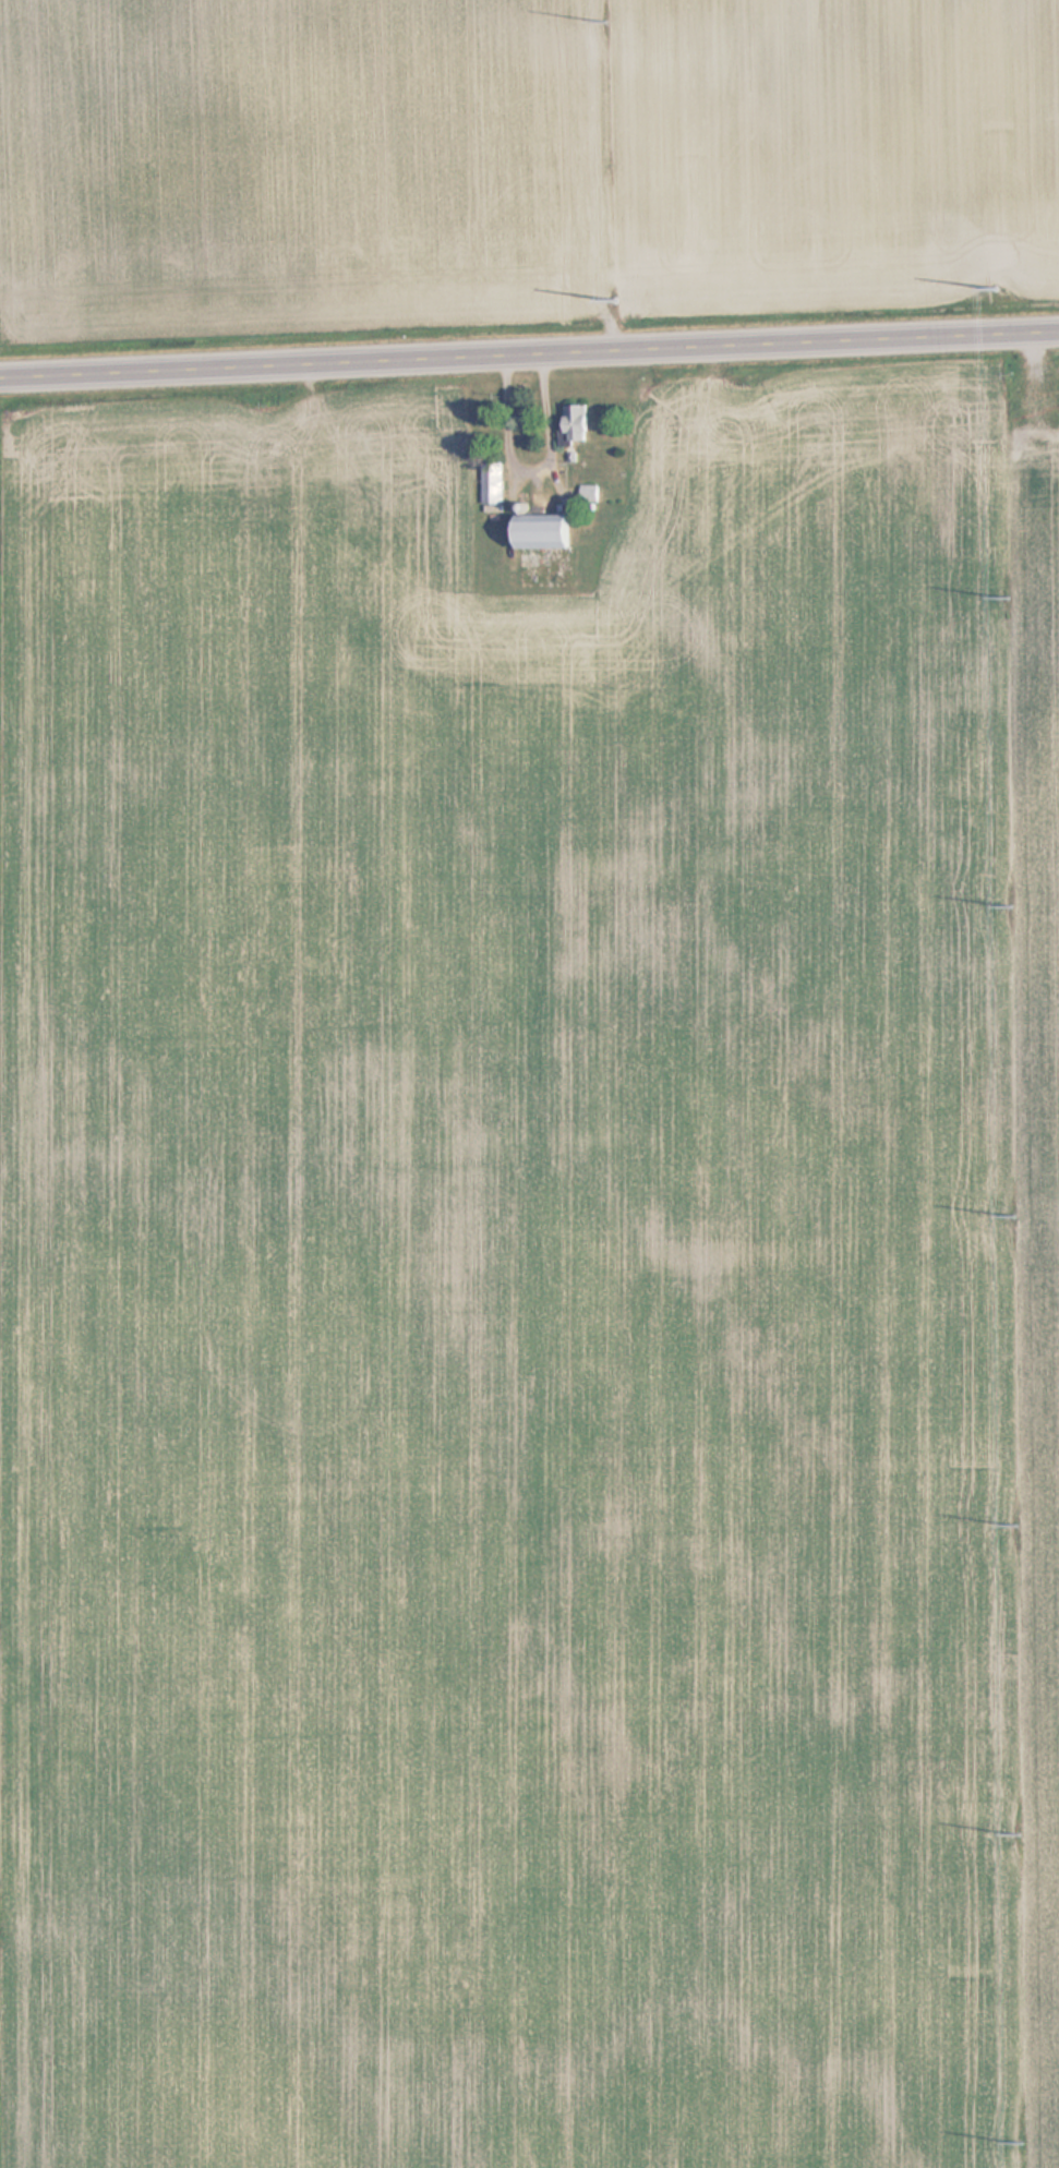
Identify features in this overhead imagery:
power tower: (604, 16)
power tower: (997, 287)
power tower: (611, 300)
road: (529, 356)
building: (581, 424)
building: (494, 483)
building: (555, 531)
power tower: (1007, 600)
power tower: (1015, 907)
power tower: (1013, 1220)
power tower: (1018, 1525)
power tower: (1018, 1833)
power tower: (1026, 2141)

